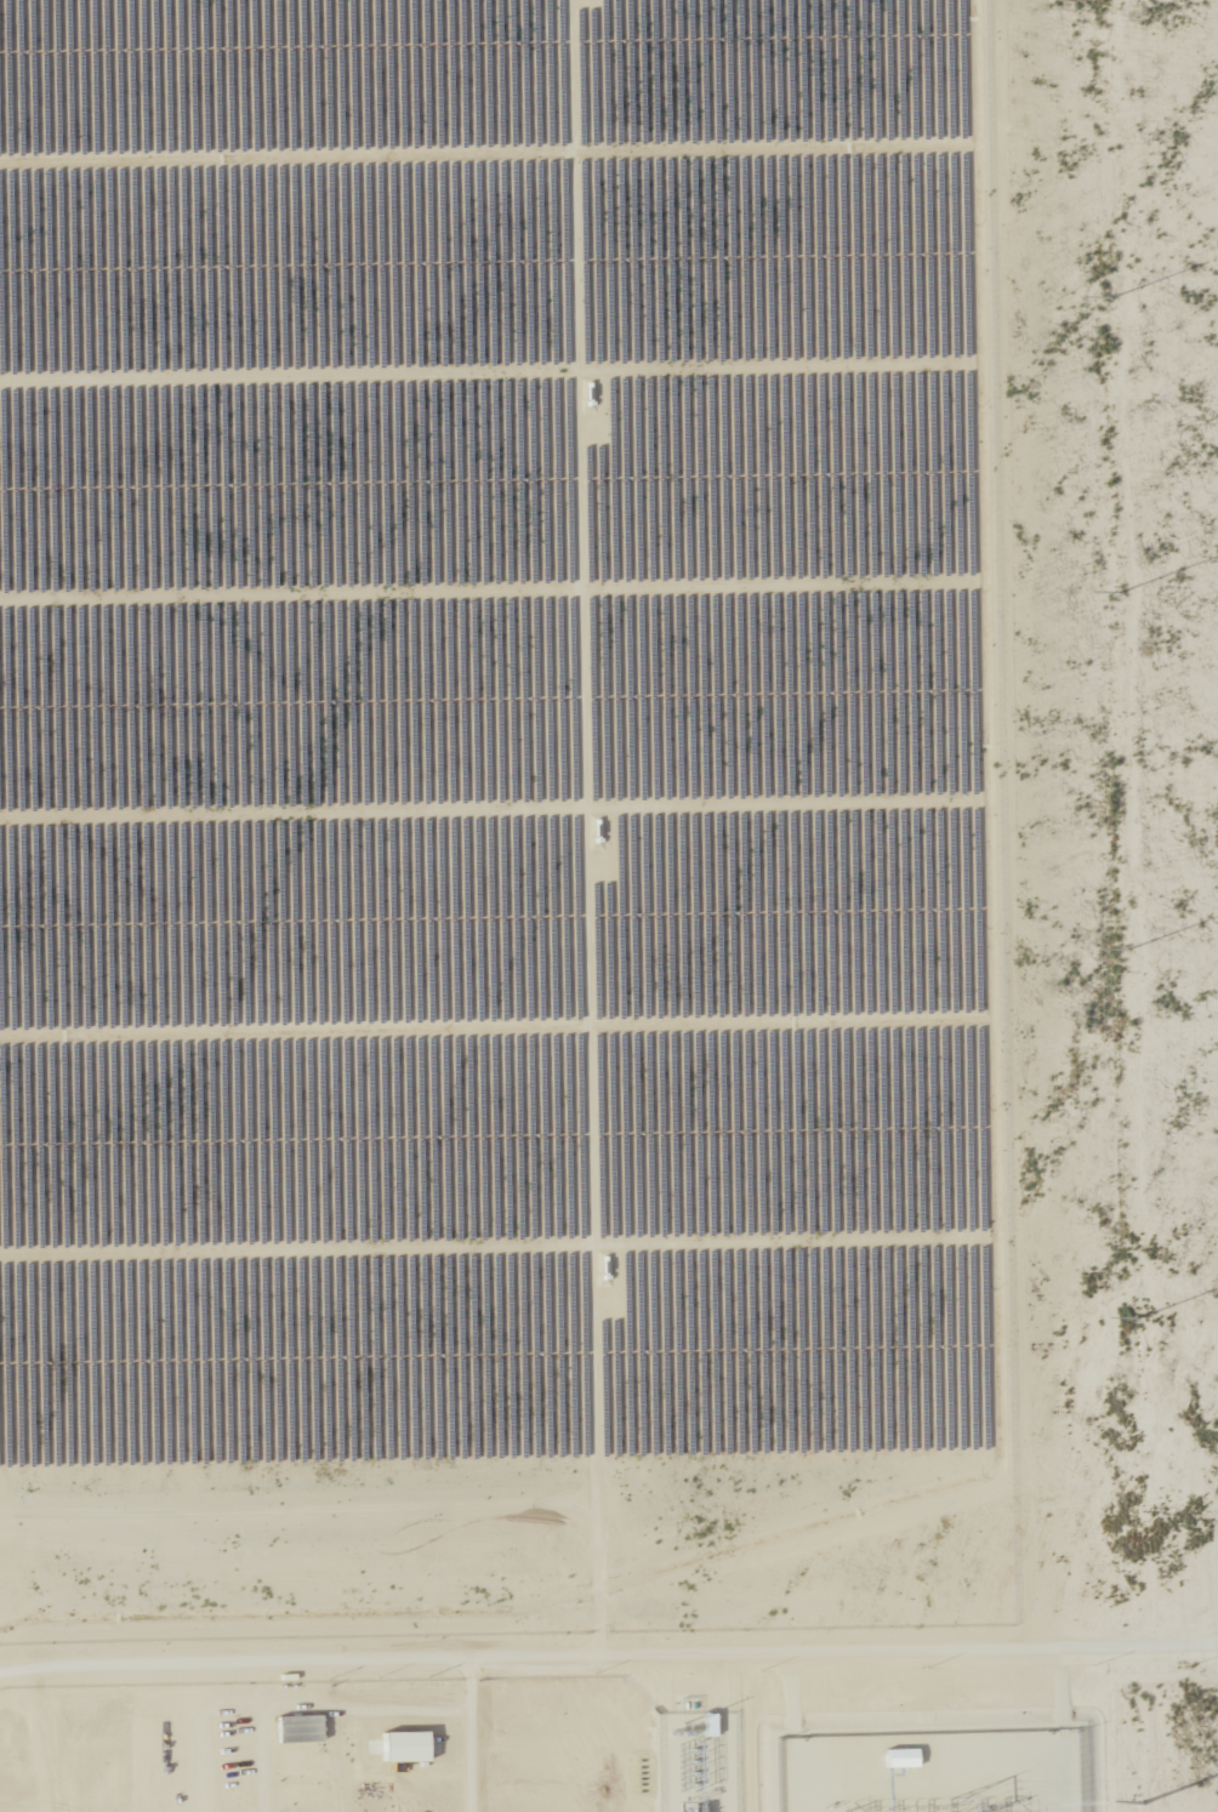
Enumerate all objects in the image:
power tower: (1111, 300)
power tower: (1119, 594)
power tower: (1127, 950)
power tower: (1137, 1320)
building: (710, 1723)
power tower: (1148, 1748)
building: (901, 1757)

